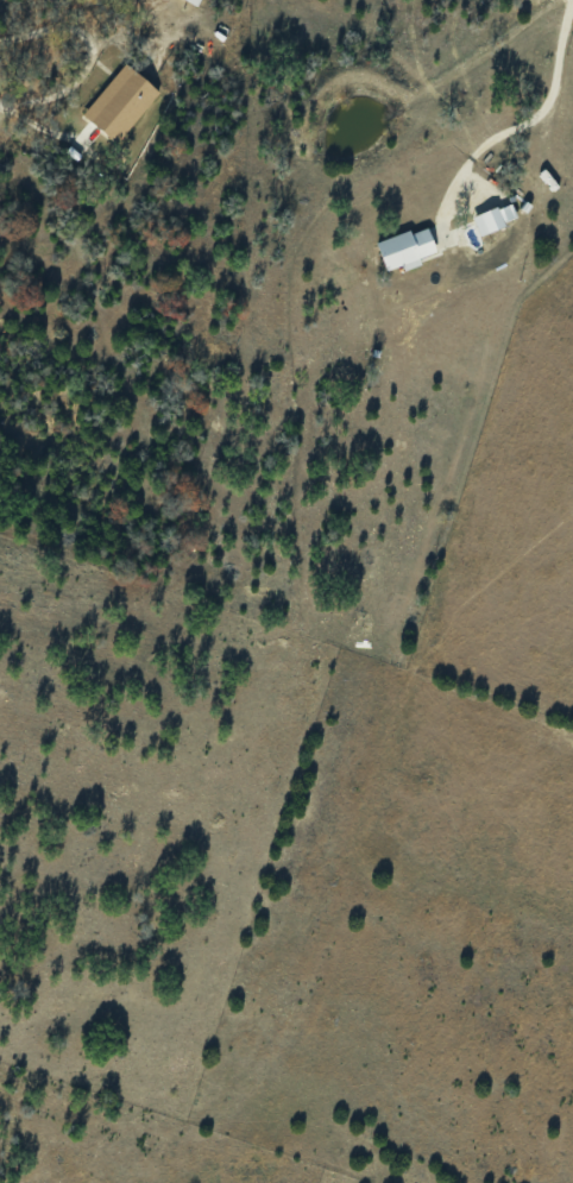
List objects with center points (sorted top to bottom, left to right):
building: (403, 247)

